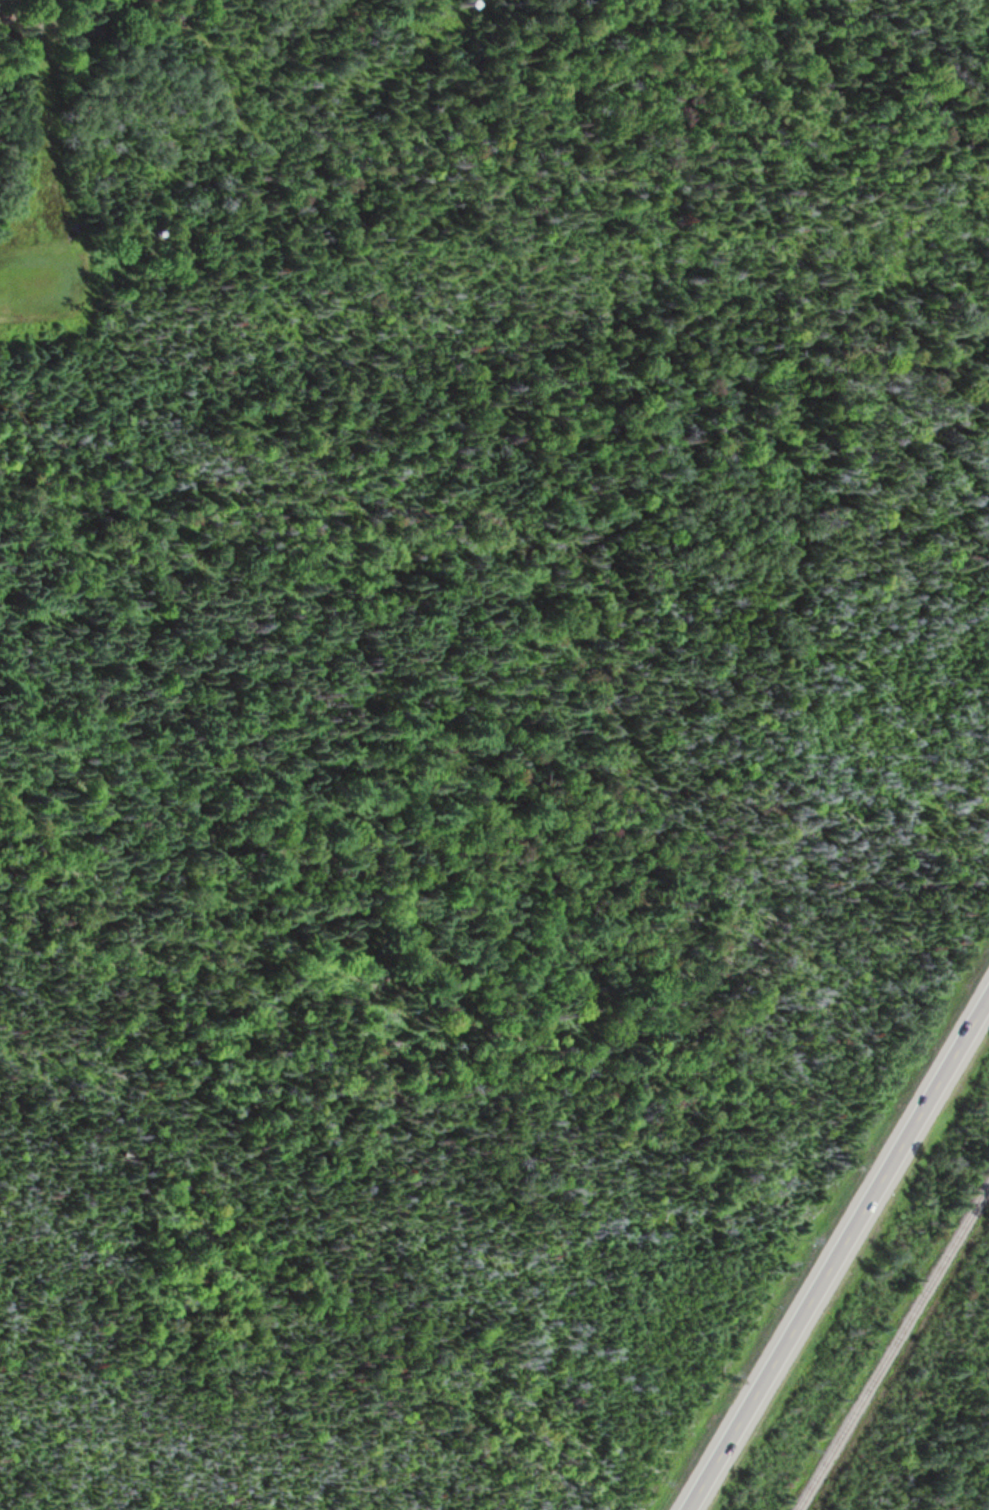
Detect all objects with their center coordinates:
road: (838, 1253)
railway: (893, 1348)

